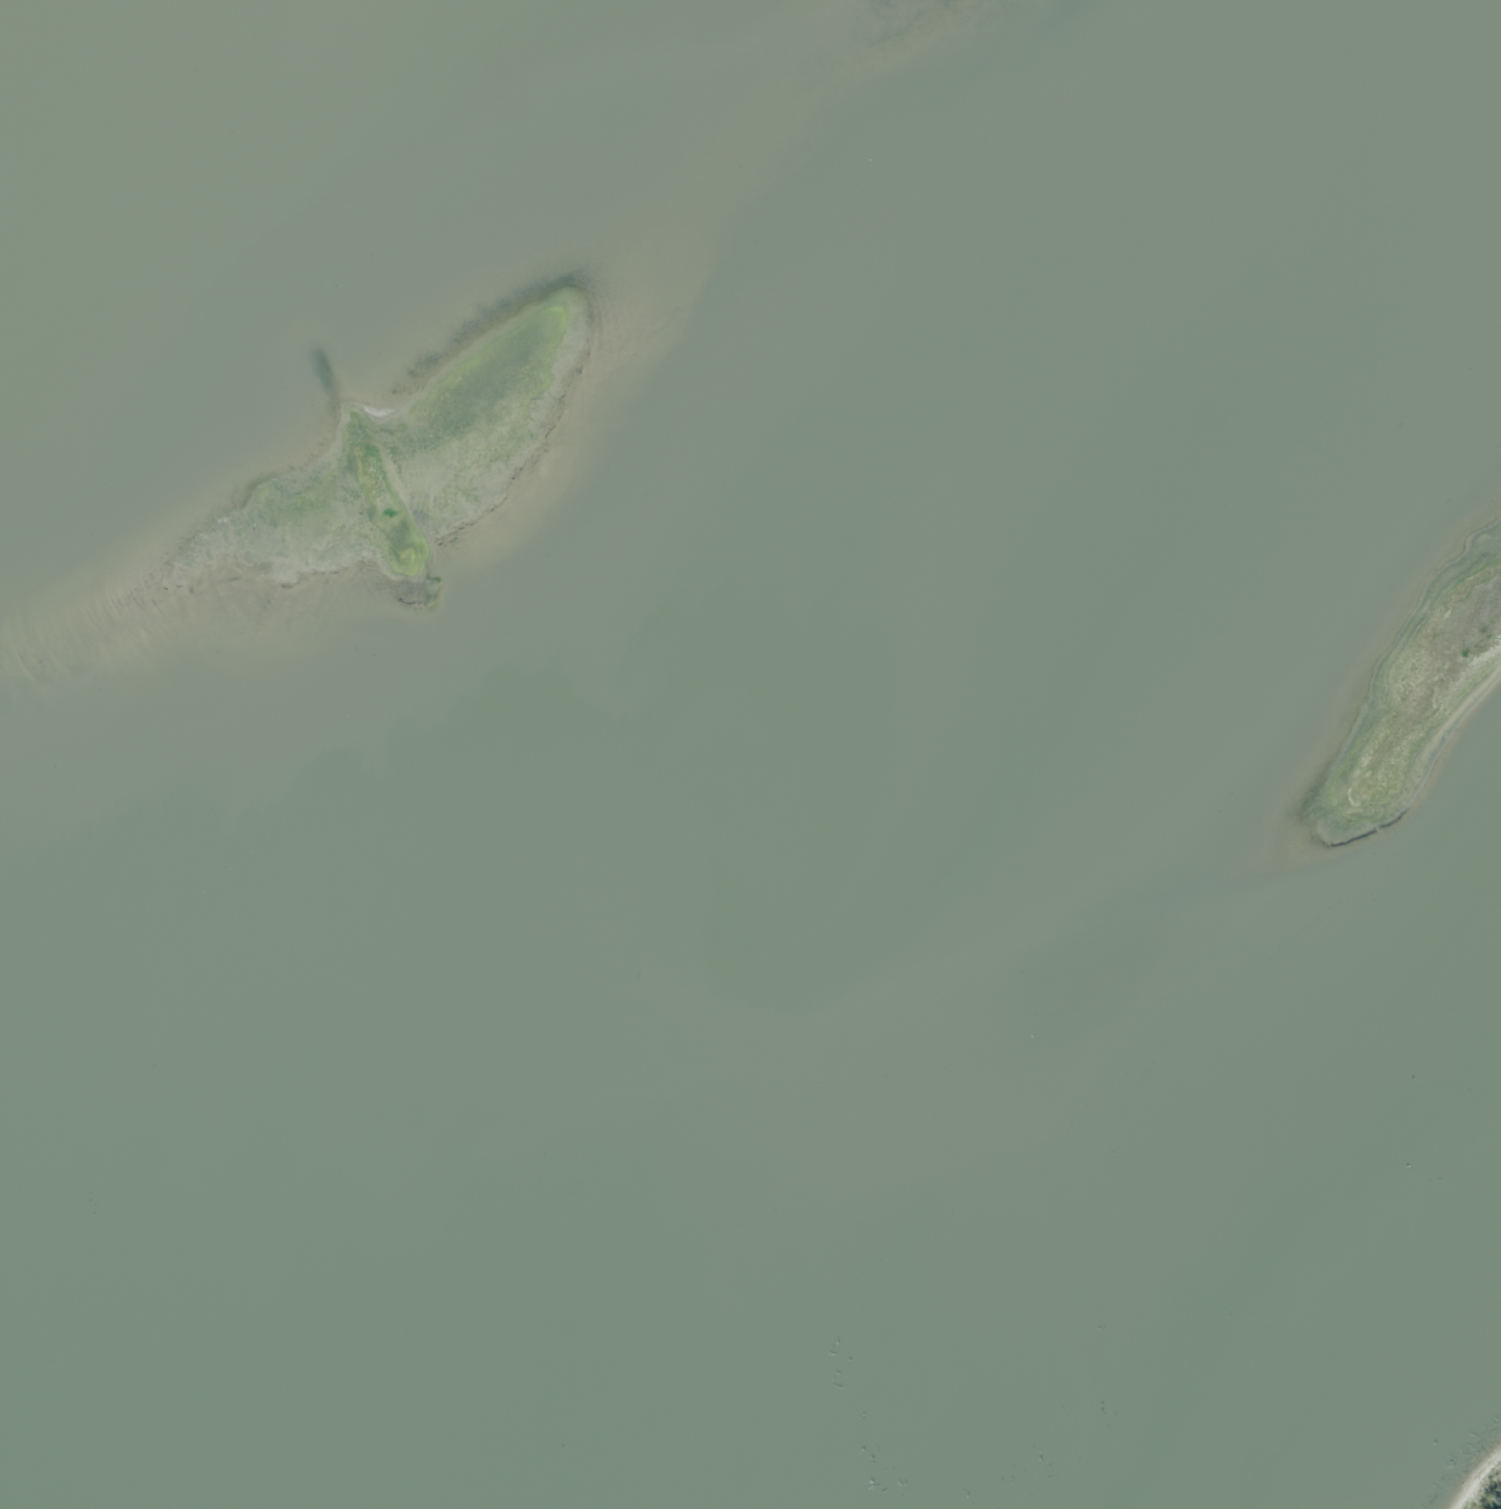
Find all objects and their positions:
building: (1365, 1143)
building: (1397, 1168)
building: (1123, 1350)
building: (1337, 1369)

